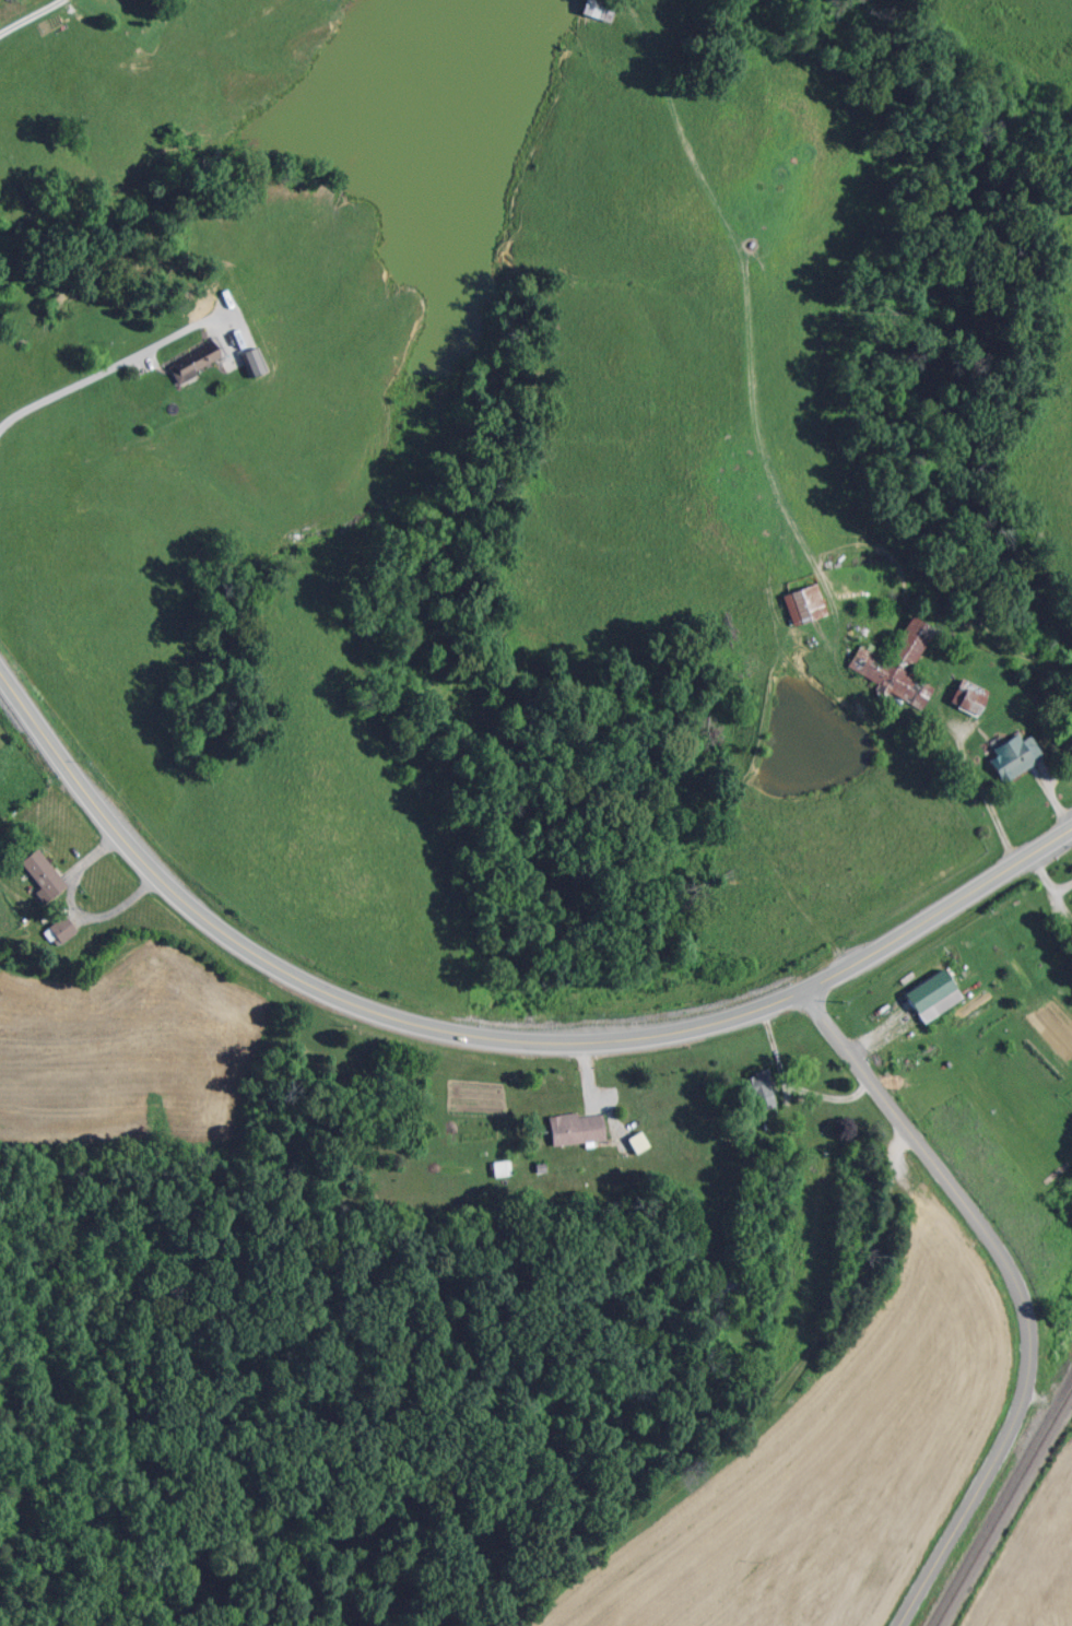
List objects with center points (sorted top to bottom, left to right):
building: (596, 8)
road: (33, 17)
building: (196, 355)
building: (248, 360)
road: (113, 363)
road: (771, 512)
building: (800, 602)
building: (893, 663)
building: (964, 695)
building: (1009, 755)
building: (39, 871)
building: (58, 928)
building: (1069, 930)
building: (935, 990)
road: (487, 1036)
building: (755, 1089)
building: (573, 1128)
building: (628, 1140)
road: (885, 1214)
building: (723, 1283)
road: (1020, 1291)
railway: (1002, 1505)

